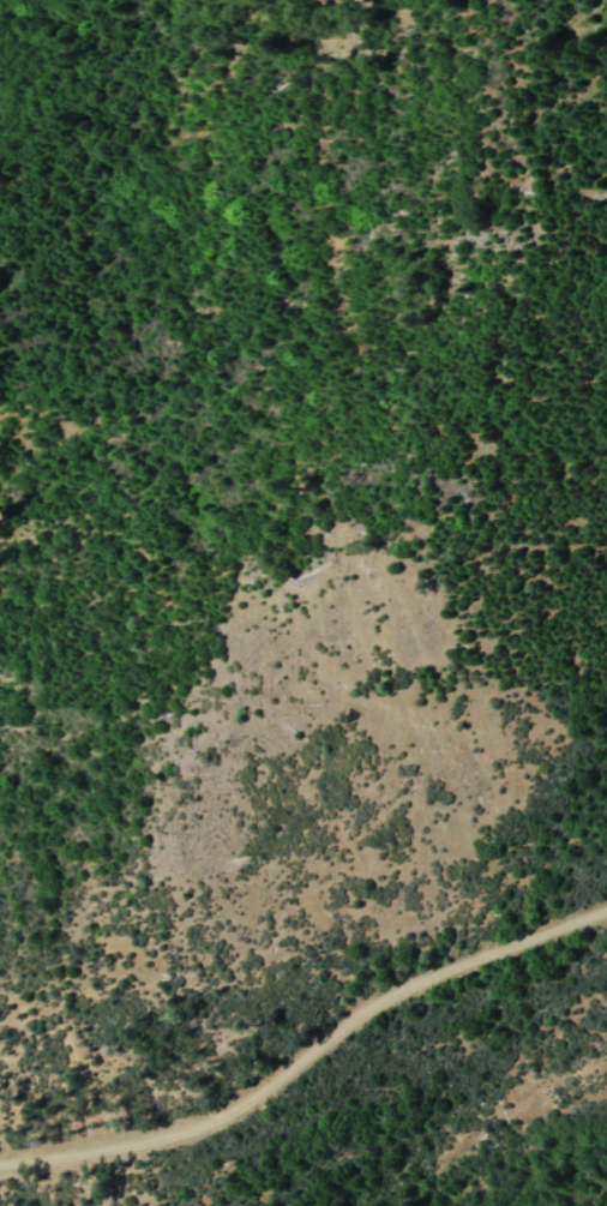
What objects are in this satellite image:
road: (306, 1056)

